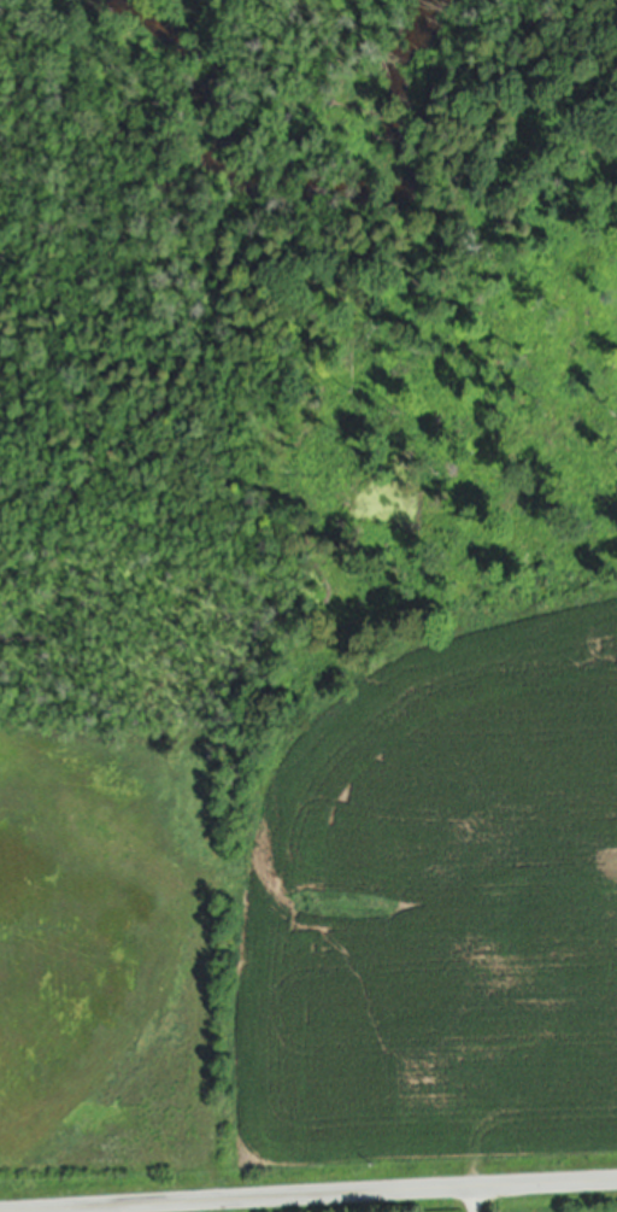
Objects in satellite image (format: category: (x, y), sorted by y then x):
road: (307, 1193)
road: (475, 1199)

